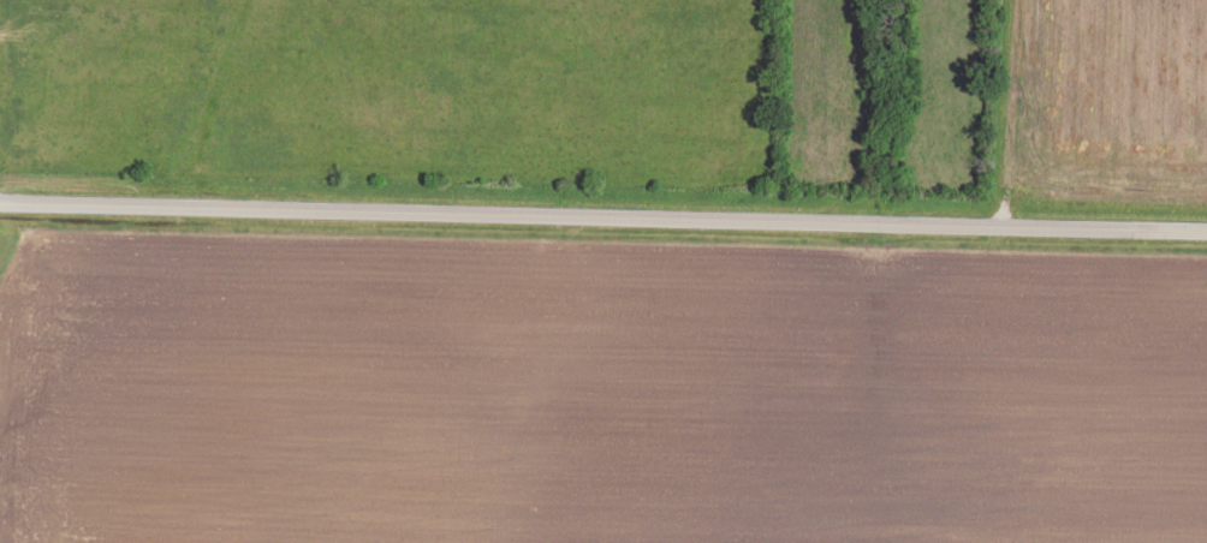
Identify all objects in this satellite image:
road: (602, 215)

